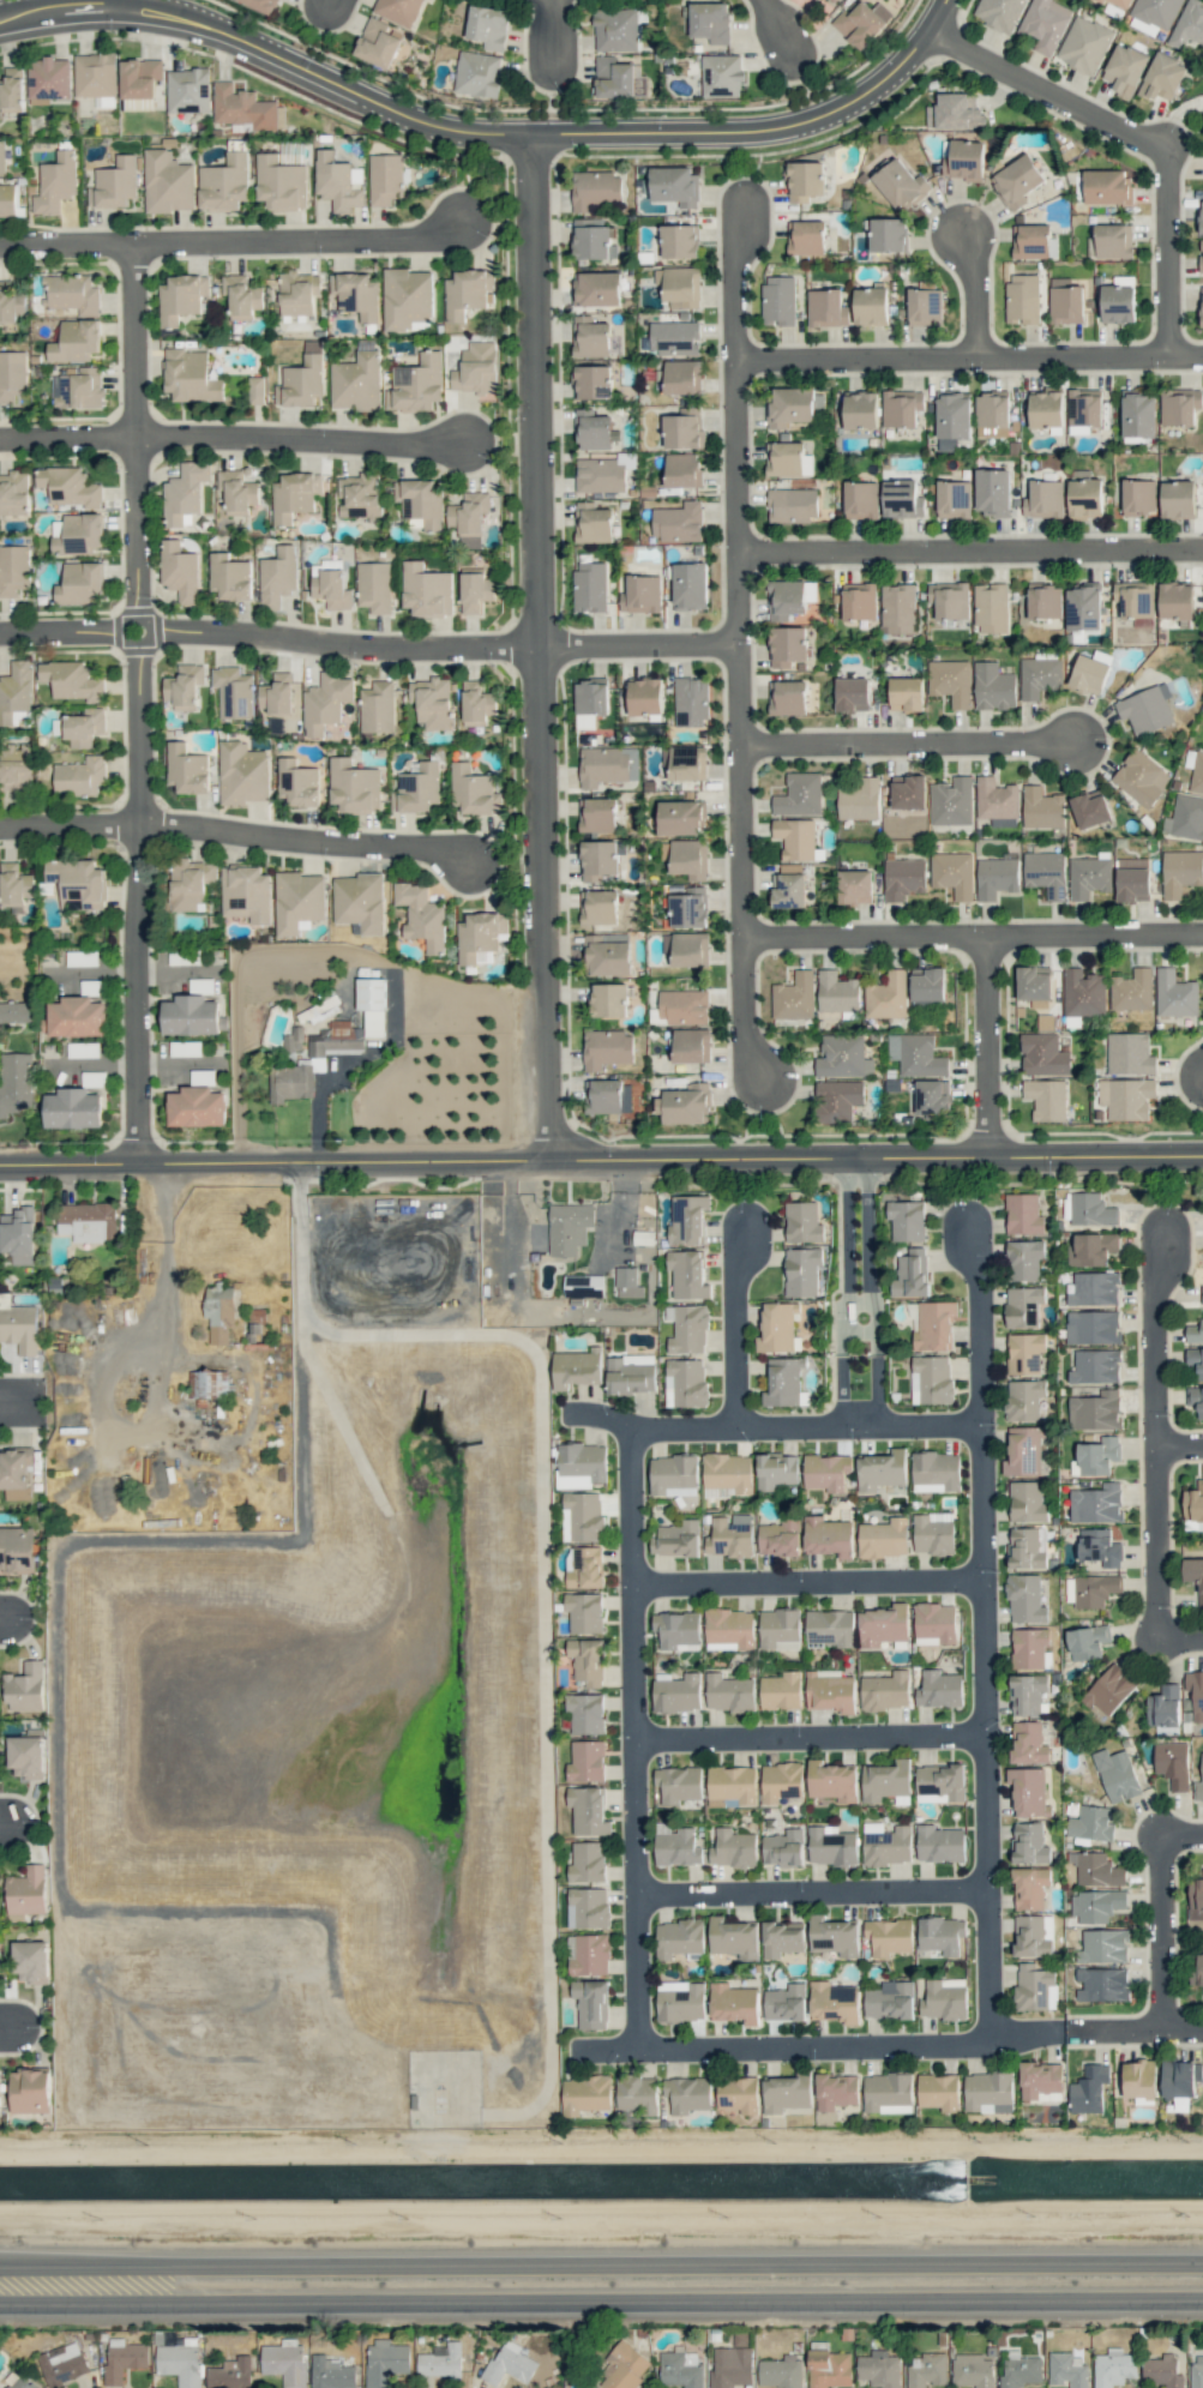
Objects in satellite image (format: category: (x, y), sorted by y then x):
building: (832, 0)
road: (119, 4)
building: (1119, 4)
building: (261, 5)
road: (327, 7)
building: (398, 10)
building: (1156, 11)
building: (1000, 13)
building: (710, 22)
building: (861, 23)
building: (1045, 24)
building: (1189, 25)
building: (488, 26)
building: (1143, 26)
building: (615, 29)
road: (782, 32)
road: (551, 42)
building: (377, 43)
building: (1084, 44)
road: (269, 55)
building: (1125, 70)
building: (95, 74)
building: (477, 74)
building: (721, 76)
building: (1162, 77)
building: (139, 78)
building: (613, 78)
building: (48, 79)
building: (12, 90)
building: (188, 90)
building: (242, 107)
building: (955, 112)
road: (763, 131)
road: (1138, 138)
building: (2, 156)
building: (964, 160)
building: (384, 178)
building: (805, 181)
building: (1017, 181)
building: (168, 182)
building: (281, 182)
building: (338, 182)
building: (56, 184)
building: (224, 184)
building: (901, 184)
building: (675, 186)
building: (1107, 186)
road: (531, 190)
building: (595, 190)
building: (7, 199)
building: (1201, 216)
building: (888, 234)
building: (806, 236)
building: (593, 239)
building: (679, 241)
building: (1030, 241)
road: (236, 242)
building: (1201, 255)
building: (680, 287)
building: (597, 289)
road: (976, 291)
building: (297, 293)
building: (468, 293)
building: (73, 294)
building: (356, 294)
building: (241, 296)
building: (181, 297)
building: (407, 297)
building: (1022, 299)
building: (778, 300)
building: (1119, 300)
building: (1065, 301)
building: (925, 305)
building: (871, 306)
building: (826, 308)
building: (1202, 309)
building: (590, 337)
building: (674, 337)
building: (76, 341)
road: (968, 360)
building: (476, 369)
building: (12, 375)
building: (191, 377)
building: (681, 377)
building: (303, 380)
building: (356, 381)
building: (591, 381)
building: (417, 384)
building: (278, 389)
building: (255, 390)
building: (1179, 405)
building: (789, 407)
building: (901, 408)
building: (1084, 408)
building: (860, 410)
building: (992, 414)
building: (954, 415)
building: (1138, 415)
building: (684, 429)
building: (593, 431)
road: (235, 439)
building: (788, 459)
building: (682, 470)
building: (600, 475)
building: (68, 486)
building: (185, 492)
building: (237, 492)
building: (992, 492)
building: (14, 493)
building: (359, 494)
building: (295, 495)
building: (1084, 495)
building: (1139, 497)
building: (861, 499)
building: (902, 499)
building: (954, 499)
building: (1043, 499)
building: (1178, 499)
building: (421, 501)
building: (792, 505)
building: (469, 517)
building: (678, 522)
building: (593, 523)
building: (77, 534)
road: (969, 553)
building: (13, 569)
building: (180, 571)
building: (277, 576)
building: (230, 577)
building: (79, 583)
building: (690, 585)
building: (330, 587)
building: (373, 587)
building: (589, 587)
building: (426, 590)
building: (475, 591)
building: (642, 594)
building: (789, 597)
building: (1133, 598)
building: (949, 600)
building: (859, 601)
building: (1045, 601)
building: (1175, 601)
building: (1083, 607)
building: (897, 608)
building: (991, 608)
building: (787, 645)
road: (368, 650)
road: (738, 650)
building: (1089, 674)
building: (1039, 676)
building: (72, 680)
building: (950, 681)
building: (185, 686)
building: (993, 686)
building: (16, 691)
building: (234, 692)
building: (906, 693)
building: (277, 694)
building: (852, 694)
building: (590, 697)
building: (645, 697)
building: (787, 697)
building: (691, 700)
building: (431, 702)
road: (539, 702)
building: (325, 703)
building: (476, 703)
road: (138, 705)
building: (377, 708)
building: (1147, 709)
building: (585, 721)
building: (84, 727)
road: (908, 742)
building: (687, 763)
building: (604, 765)
building: (187, 769)
building: (14, 770)
building: (1197, 772)
building: (243, 774)
building: (79, 776)
building: (1141, 777)
building: (297, 783)
building: (354, 787)
building: (416, 788)
building: (474, 790)
building: (908, 792)
building: (799, 795)
building: (996, 799)
building: (860, 800)
building: (951, 801)
building: (1042, 807)
building: (1089, 807)
building: (597, 814)
building: (681, 817)
building: (1185, 817)
road: (235, 836)
building: (795, 838)
building: (690, 859)
building: (599, 860)
building: (1180, 872)
building: (952, 873)
building: (1046, 873)
building: (996, 877)
building: (1088, 877)
building: (903, 878)
building: (1132, 879)
building: (78, 880)
building: (14, 884)
building: (190, 884)
building: (788, 886)
building: (854, 886)
building: (246, 894)
building: (299, 901)
building: (360, 902)
building: (599, 907)
building: (690, 908)
building: (422, 916)
building: (480, 937)
road: (972, 939)
building: (690, 949)
building: (608, 955)
building: (927, 984)
building: (1034, 985)
building: (1132, 990)
building: (837, 992)
building: (1083, 992)
building: (1175, 994)
building: (886, 995)
building: (794, 997)
building: (609, 1000)
building: (372, 1004)
building: (682, 1006)
building: (319, 1010)
building: (16, 1011)
building: (191, 1016)
building: (77, 1017)
building: (336, 1039)
building: (293, 1040)
building: (691, 1045)
building: (607, 1048)
road: (986, 1048)
building: (1129, 1053)
building: (916, 1054)
building: (1043, 1054)
building: (843, 1057)
building: (314, 1063)
building: (289, 1082)
building: (16, 1083)
building: (607, 1096)
building: (932, 1096)
building: (1126, 1097)
building: (1046, 1099)
building: (837, 1100)
building: (685, 1105)
building: (197, 1107)
building: (73, 1108)
road: (601, 1162)
building: (1090, 1209)
building: (1023, 1214)
building: (687, 1219)
building: (907, 1220)
building: (88, 1221)
building: (802, 1222)
building: (569, 1227)
building: (17, 1234)
building: (1091, 1249)
building: (1024, 1259)
building: (801, 1270)
building: (687, 1274)
building: (910, 1274)
road: (164, 1281)
building: (626, 1282)
building: (583, 1286)
building: (1091, 1288)
road: (847, 1292)
road: (867, 1292)
building: (1202, 1293)
road: (858, 1303)
building: (1023, 1306)
building: (218, 1311)
road: (972, 1323)
road: (726, 1325)
building: (934, 1327)
building: (1093, 1327)
building: (19, 1328)
building: (777, 1328)
building: (688, 1329)
road: (859, 1333)
building: (1195, 1333)
road: (1144, 1339)
building: (1025, 1353)
building: (1195, 1360)
building: (1095, 1366)
building: (576, 1369)
building: (630, 1373)
building: (931, 1379)
building: (783, 1382)
building: (685, 1383)
building: (207, 1384)
building: (1196, 1398)
building: (1024, 1400)
road: (17, 1406)
building: (1095, 1410)
road: (770, 1426)
road: (1174, 1446)
building: (1024, 1450)
building: (1099, 1455)
building: (581, 1464)
building: (776, 1470)
building: (882, 1470)
building: (728, 1472)
building: (826, 1472)
building: (936, 1472)
building: (14, 1474)
building: (673, 1475)
building: (1028, 1502)
building: (1096, 1503)
building: (1193, 1503)
building: (583, 1516)
building: (933, 1533)
building: (729, 1536)
building: (829, 1536)
building: (780, 1538)
building: (884, 1538)
building: (676, 1539)
road: (1148, 1544)
building: (1100, 1547)
building: (1025, 1548)
building: (17, 1550)
building: (587, 1568)
building: (1193, 1574)
road: (799, 1581)
building: (1095, 1590)
building: (1024, 1599)
building: (584, 1612)
building: (934, 1623)
building: (883, 1625)
road: (5, 1626)
building: (730, 1626)
building: (676, 1628)
building: (830, 1628)
building: (780, 1629)
road: (1175, 1638)
building: (1087, 1642)
building: (1029, 1647)
building: (587, 1660)
building: (26, 1688)
building: (939, 1689)
building: (1109, 1689)
building: (781, 1691)
building: (830, 1691)
building: (885, 1691)
building: (729, 1692)
building: (1195, 1692)
building: (678, 1694)
building: (1027, 1694)
building: (1163, 1709)
building: (585, 1713)
road: (624, 1732)
road: (800, 1733)
road: (975, 1733)
building: (1028, 1743)
building: (29, 1754)
building: (587, 1761)
building: (1172, 1763)
building: (1117, 1775)
building: (885, 1780)
building: (942, 1780)
building: (781, 1781)
building: (832, 1781)
building: (678, 1784)
building: (1199, 1785)
building: (732, 1786)
building: (1028, 1791)
building: (931, 1798)
building: (588, 1810)
building: (1090, 1823)
road: (5, 1829)
road: (1175, 1834)
building: (939, 1843)
building: (1029, 1843)
building: (831, 1846)
building: (888, 1846)
building: (678, 1847)
building: (733, 1848)
building: (783, 1848)
building: (587, 1861)
building: (1096, 1869)
building: (1030, 1887)
road: (800, 1888)
building: (28, 1891)
building: (1196, 1899)
building: (1096, 1905)
building: (590, 1907)
road: (1151, 1933)
building: (942, 1935)
building: (834, 1936)
building: (889, 1936)
building: (678, 1937)
building: (734, 1937)
building: (1031, 1937)
building: (782, 1938)
building: (1103, 1945)
building: (588, 1954)
building: (31, 1961)
building: (1197, 1972)
building: (1101, 1984)
building: (1035, 1987)
building: (943, 1998)
building: (890, 1999)
building: (680, 2001)
building: (834, 2002)
building: (591, 2003)
building: (734, 2003)
building: (786, 2003)
road: (7, 2035)
road: (885, 2045)
building: (1139, 2079)
building: (1041, 2081)
building: (1179, 2082)
building: (1089, 2089)
building: (30, 2091)
building: (836, 2091)
building: (938, 2092)
building: (988, 2092)
building: (637, 2093)
building: (738, 2093)
building: (786, 2093)
building: (888, 2093)
building: (585, 2094)
building: (687, 2094)
road: (601, 2262)
road: (601, 2291)
building: (124, 2358)
building: (440, 2360)
building: (179, 2362)
building: (284, 2362)
building: (385, 2362)
building: (62, 2363)
building: (509, 2363)
building: (624, 2366)
building: (730, 2366)
building: (829, 2368)
building: (1113, 2368)
building: (680, 2369)
building: (879, 2369)
building: (926, 2369)
building: (1067, 2369)
building: (973, 2370)
building: (781, 2371)
building: (1021, 2371)
building: (1162, 2371)
building: (1197, 2371)
building: (331, 2372)
building: (230, 2374)
building: (20, 2382)

